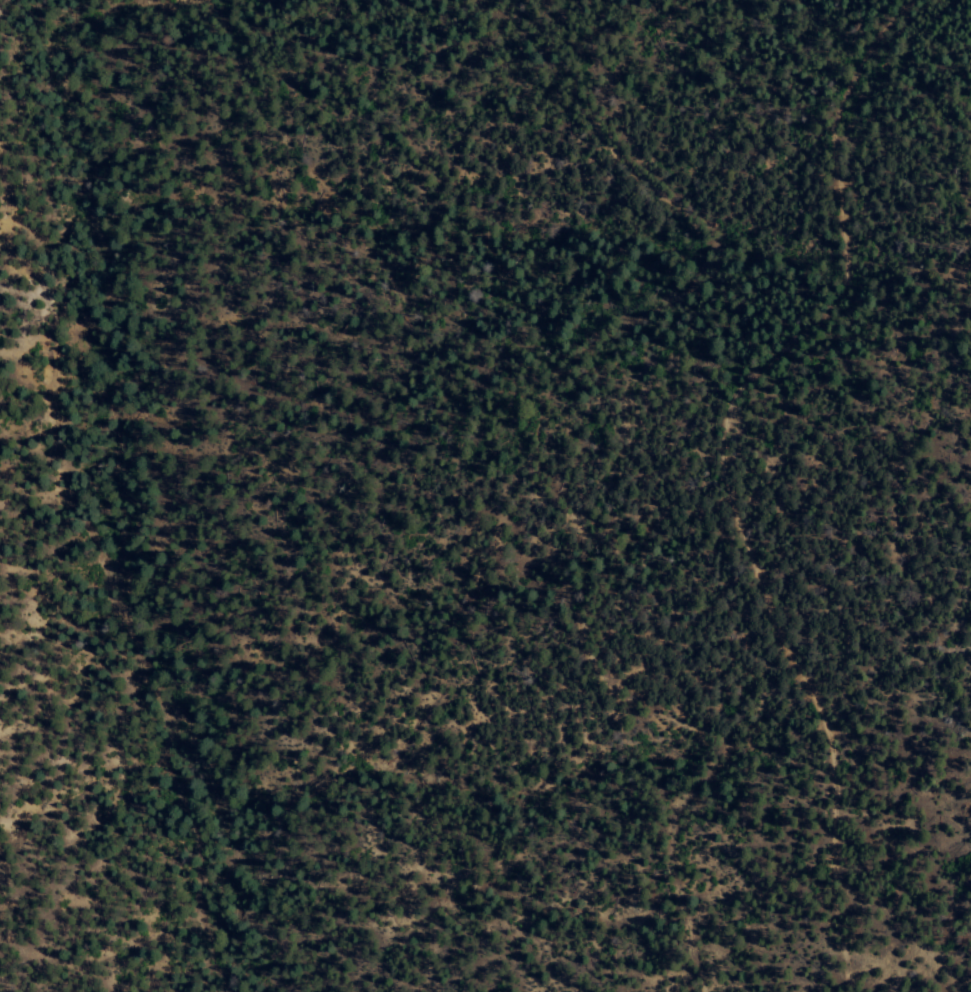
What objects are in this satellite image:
road: (568, 470)
road: (734, 476)

